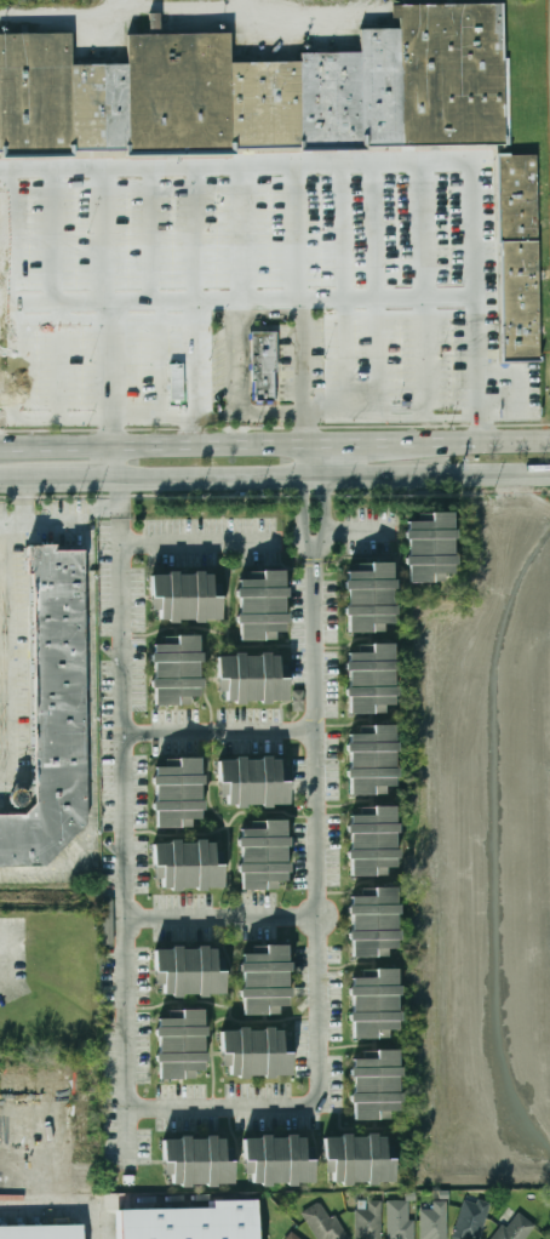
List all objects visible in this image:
road: (126, 6)
road: (247, 6)
road: (185, 11)
building: (155, 21)
building: (506, 90)
building: (260, 92)
road: (373, 167)
building: (98, 169)
road: (264, 230)
road: (303, 230)
road: (228, 233)
road: (193, 234)
road: (156, 235)
road: (113, 236)
road: (2, 238)
road: (35, 238)
road: (69, 238)
building: (520, 258)
road: (419, 290)
road: (380, 291)
road: (343, 292)
road: (237, 295)
road: (306, 354)
road: (235, 356)
road: (195, 358)
road: (157, 359)
road: (113, 360)
road: (70, 361)
road: (2, 362)
road: (35, 362)
building: (265, 364)
building: (179, 382)
road: (395, 413)
road: (246, 417)
road: (70, 418)
road: (154, 418)
road: (310, 429)
road: (488, 439)
road: (374, 440)
road: (216, 444)
road: (55, 446)
road: (302, 458)
road: (322, 458)
road: (111, 462)
road: (122, 462)
road: (331, 476)
road: (71, 479)
road: (16, 480)
road: (122, 498)
road: (302, 512)
road: (323, 512)
road: (61, 516)
road: (360, 529)
road: (200, 542)
building: (429, 548)
road: (314, 553)
road: (348, 558)
building: (184, 595)
building: (368, 598)
building: (260, 606)
road: (176, 627)
road: (371, 638)
road: (299, 645)
road: (6, 655)
building: (174, 672)
building: (250, 679)
building: (369, 680)
building: (298, 700)
building: (53, 713)
road: (210, 725)
road: (219, 730)
building: (369, 761)
road: (213, 781)
building: (252, 782)
building: (176, 794)
road: (224, 826)
road: (127, 839)
building: (372, 843)
building: (263, 857)
building: (187, 866)
road: (372, 883)
road: (346, 891)
road: (222, 917)
building: (108, 921)
building: (372, 924)
road: (317, 927)
road: (21, 950)
road: (345, 964)
road: (373, 964)
road: (229, 965)
building: (188, 971)
building: (264, 982)
parking lot: (13, 990)
road: (178, 1000)
building: (373, 1005)
road: (222, 1016)
road: (374, 1045)
road: (345, 1046)
building: (179, 1047)
building: (254, 1054)
building: (374, 1086)
building: (277, 1160)
building: (357, 1160)
building: (197, 1161)
building: (4, 1178)
building: (472, 1217)
building: (369, 1220)
building: (401, 1220)
building: (436, 1221)
building: (188, 1222)
building: (325, 1222)
building: (516, 1228)
building: (41, 1232)
building: (292, 1237)

